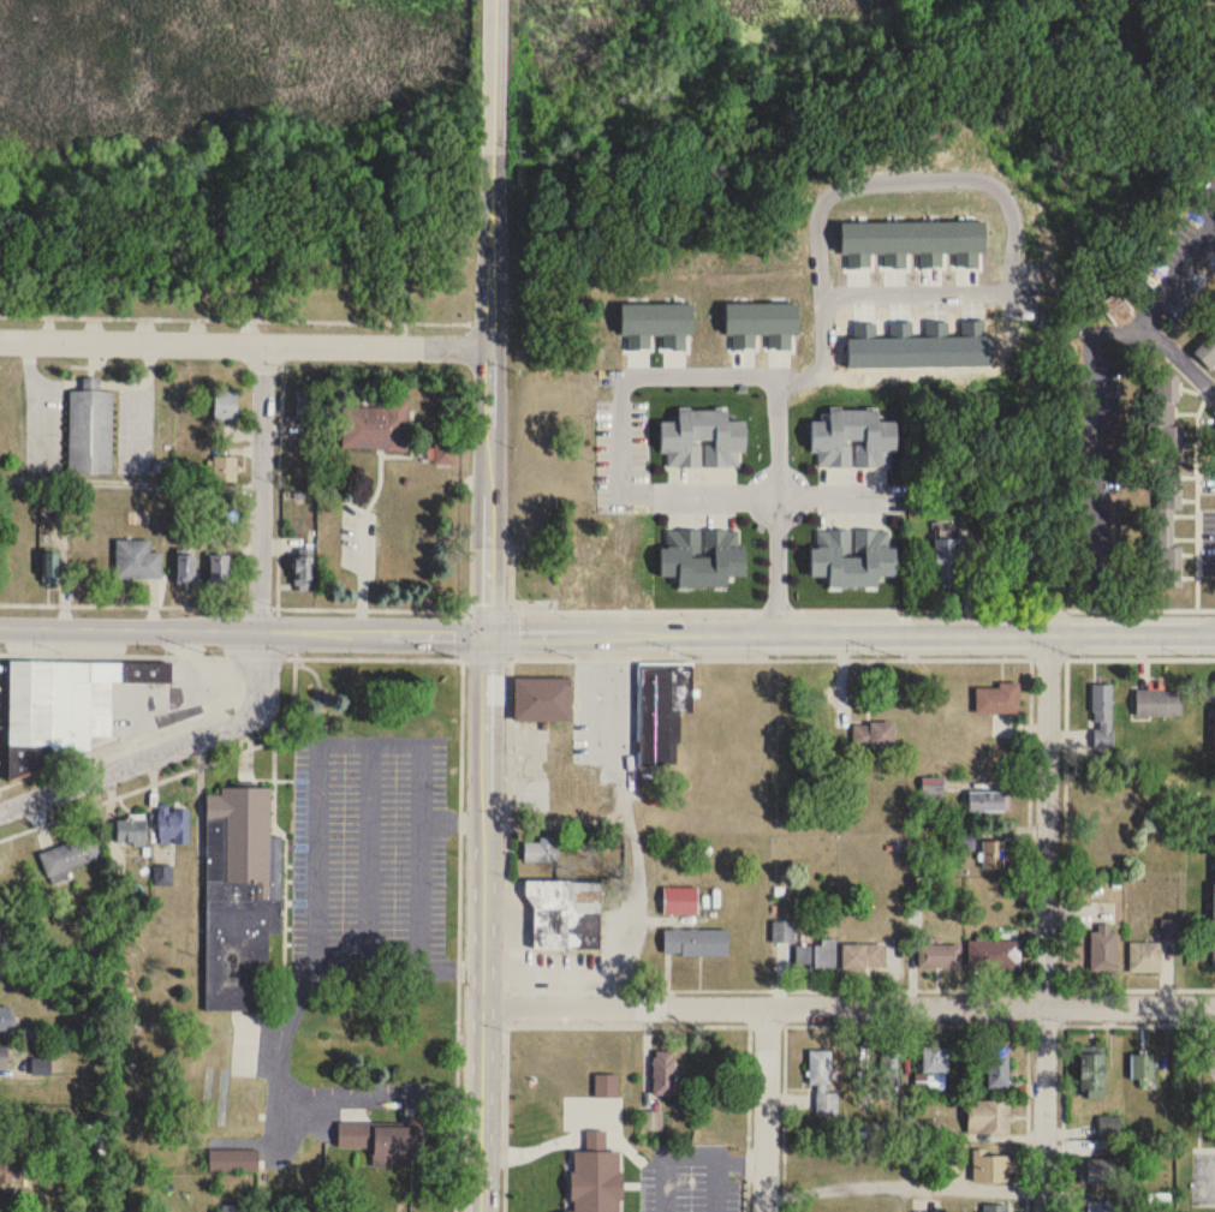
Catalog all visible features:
road: (1012, 244)
road: (1177, 269)
road: (234, 317)
road: (489, 317)
road: (244, 342)
building: (1207, 348)
road: (1177, 356)
road: (636, 372)
building: (225, 404)
building: (306, 404)
building: (1161, 411)
building: (376, 426)
road: (1096, 426)
building: (90, 431)
building: (703, 440)
building: (853, 440)
building: (442, 454)
building: (225, 468)
road: (261, 485)
building: (1163, 523)
building: (702, 556)
building: (853, 556)
building: (137, 560)
building: (946, 561)
building: (52, 566)
building: (185, 568)
building: (219, 568)
building: (304, 571)
road: (138, 603)
road: (745, 609)
road: (243, 627)
road: (850, 633)
traffic signals: (486, 634)
road: (532, 657)
building: (543, 698)
building: (70, 699)
building: (997, 699)
building: (660, 701)
building: (1159, 703)
building: (1103, 716)
building: (874, 735)
road: (115, 742)
road: (168, 747)
road: (178, 772)
building: (933, 787)
building: (988, 801)
road: (315, 814)
road: (1064, 823)
building: (174, 824)
road: (630, 826)
building: (131, 829)
building: (541, 850)
building: (70, 854)
road: (369, 854)
building: (994, 854)
road: (421, 895)
building: (242, 897)
building: (680, 901)
building: (566, 915)
road: (483, 923)
road: (1046, 923)
building: (1213, 923)
building: (1171, 929)
building: (784, 932)
road: (458, 935)
building: (693, 939)
building: (1, 942)
building: (1103, 948)
building: (994, 954)
building: (817, 955)
building: (863, 956)
building: (940, 956)
building: (1145, 957)
road: (848, 1007)
building: (5, 1019)
road: (810, 1023)
road: (1061, 1041)
building: (4, 1056)
building: (1210, 1059)
building: (936, 1061)
building: (41, 1065)
building: (996, 1067)
building: (1143, 1068)
building: (888, 1069)
building: (665, 1074)
building: (1092, 1076)
road: (1026, 1082)
building: (822, 1083)
road: (120, 1098)
road: (287, 1100)
road: (764, 1109)
building: (989, 1118)
building: (1110, 1127)
building: (10, 1142)
building: (385, 1142)
road: (689, 1156)
building: (233, 1159)
building: (993, 1168)
building: (1098, 1168)
building: (8, 1174)
parking lot: (1203, 1175)
road: (904, 1184)
road: (716, 1186)
building: (1102, 1205)
building: (995, 1207)
building: (231, 1208)
building: (0, 1211)

